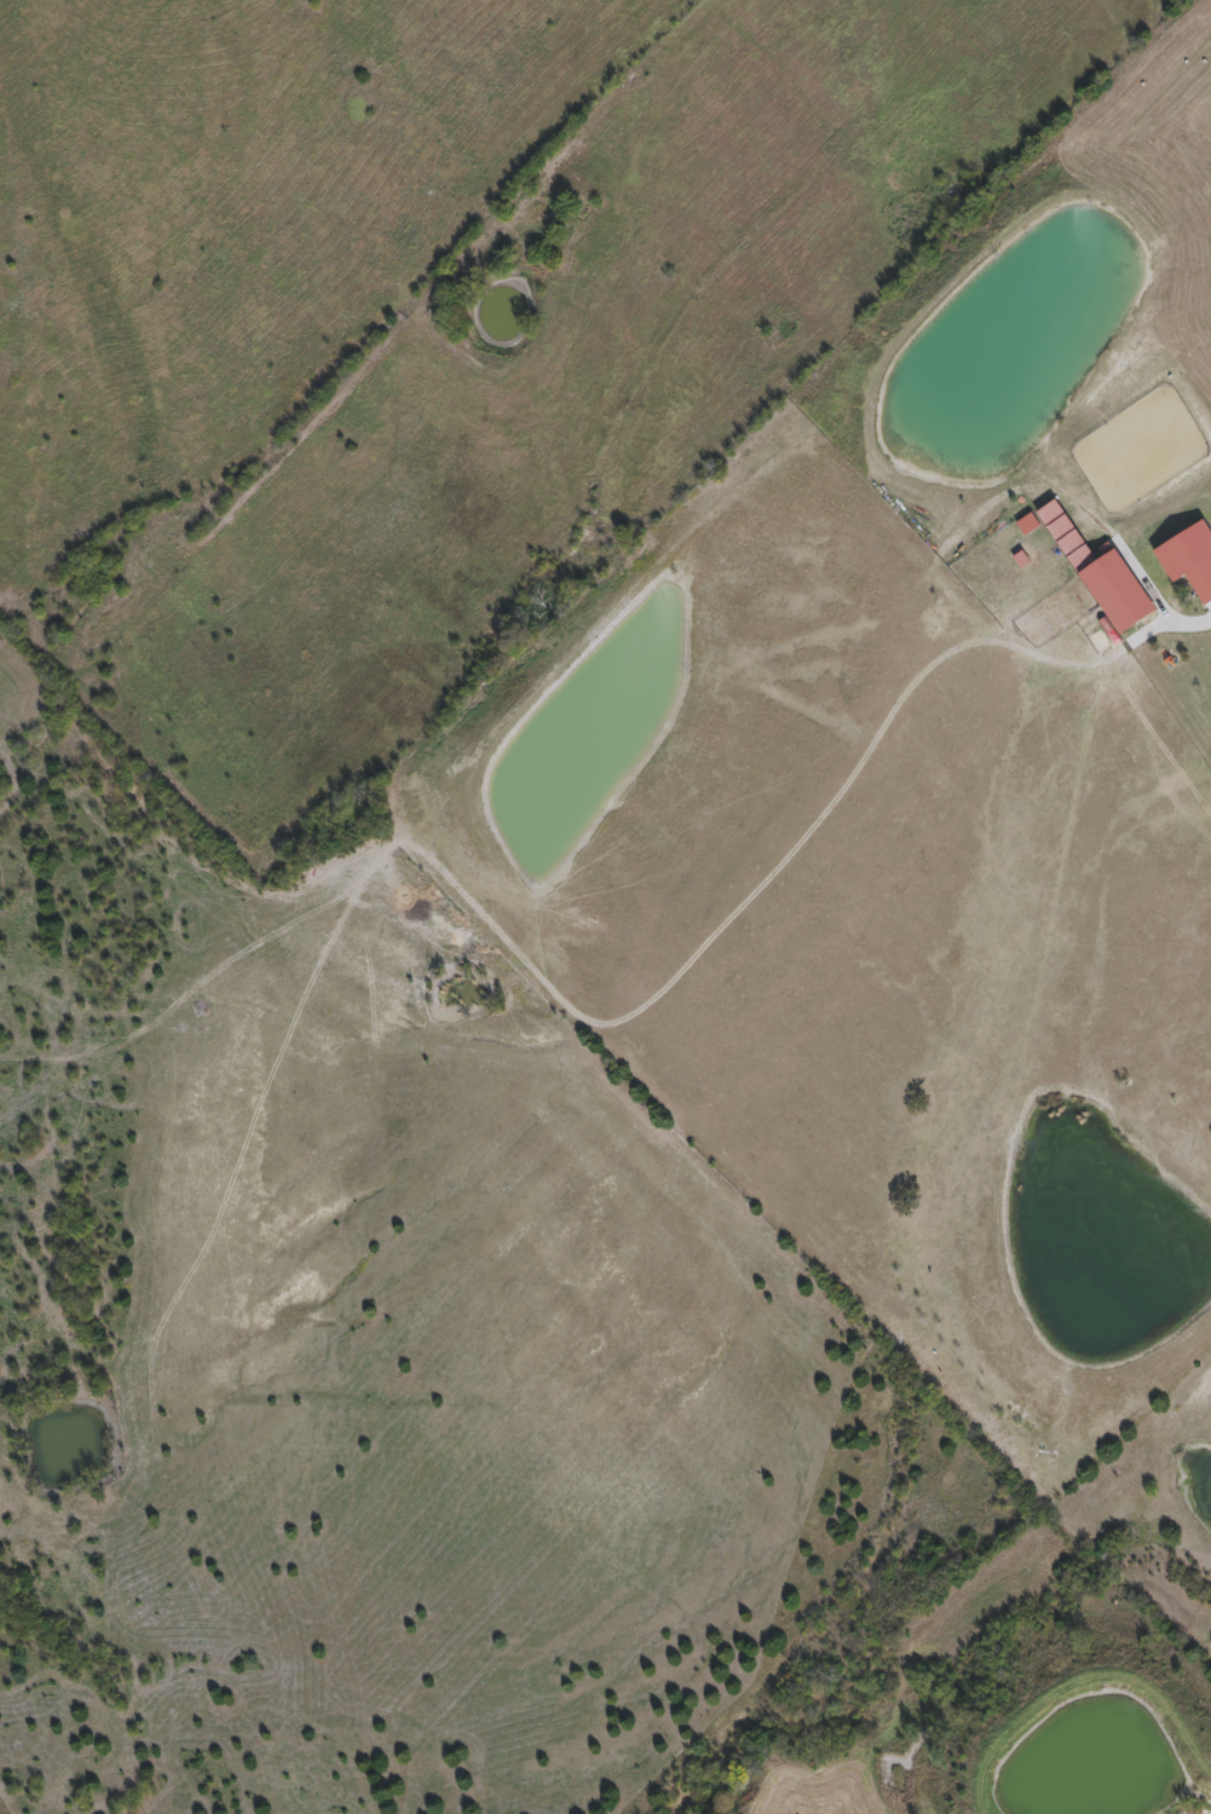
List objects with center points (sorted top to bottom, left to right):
building: (1203, 582)
road: (1158, 583)

